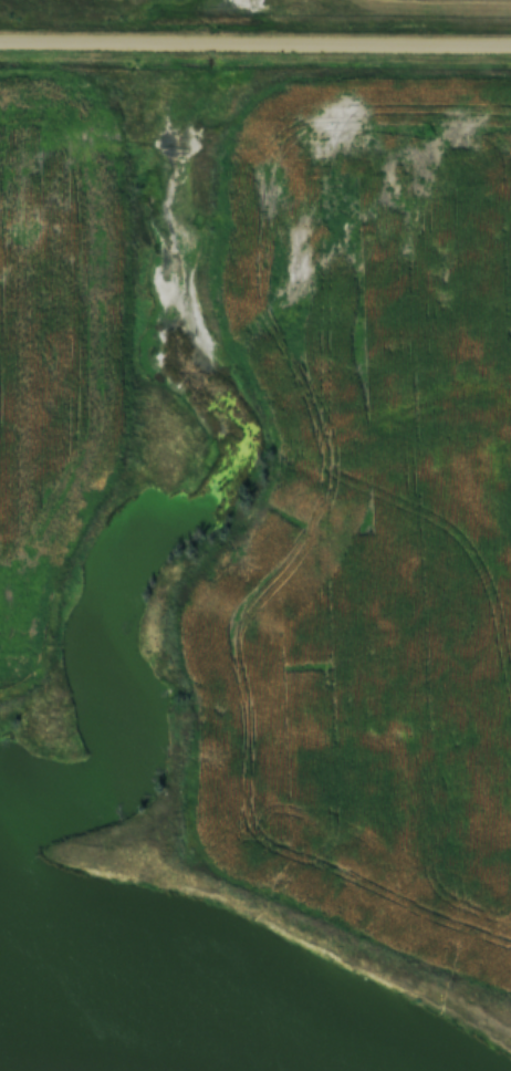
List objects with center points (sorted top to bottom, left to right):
road: (255, 43)
river: (155, 1030)

